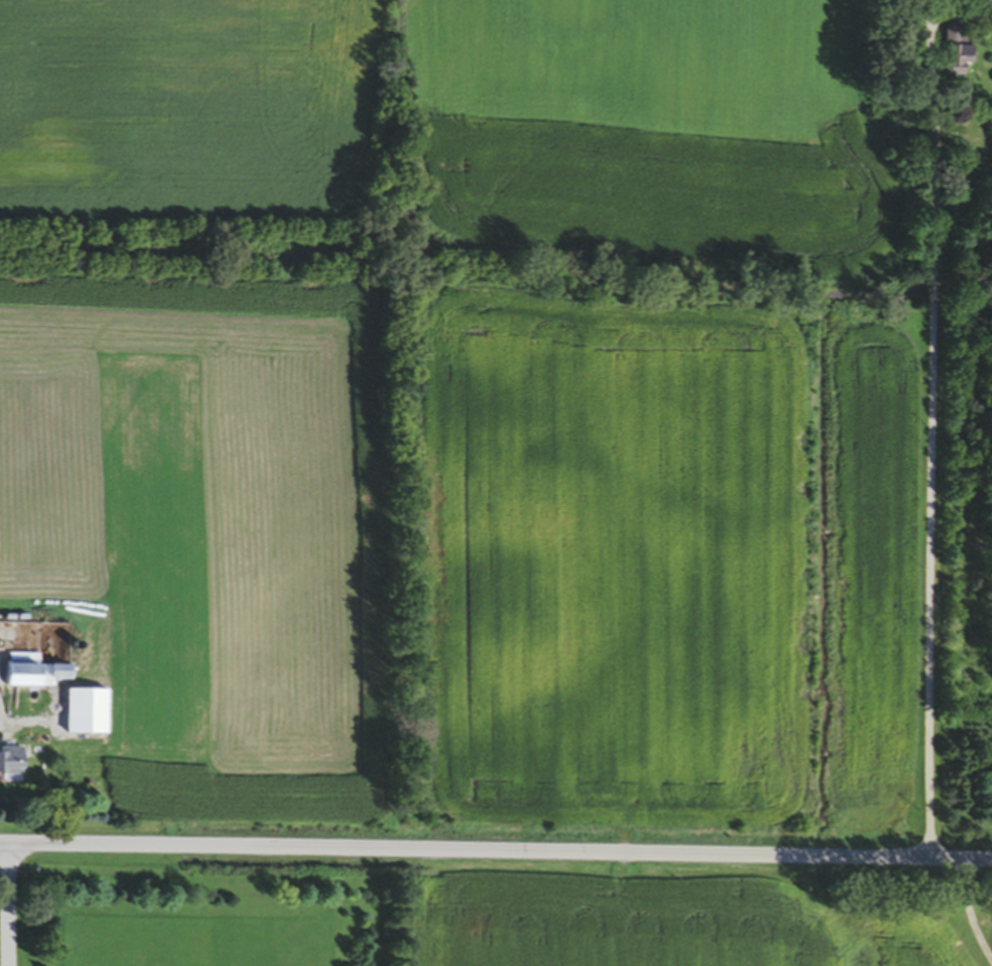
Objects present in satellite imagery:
building: (953, 51)
road: (924, 458)
building: (30, 677)
building: (8, 764)
road: (496, 849)
road: (8, 904)
road: (963, 915)

